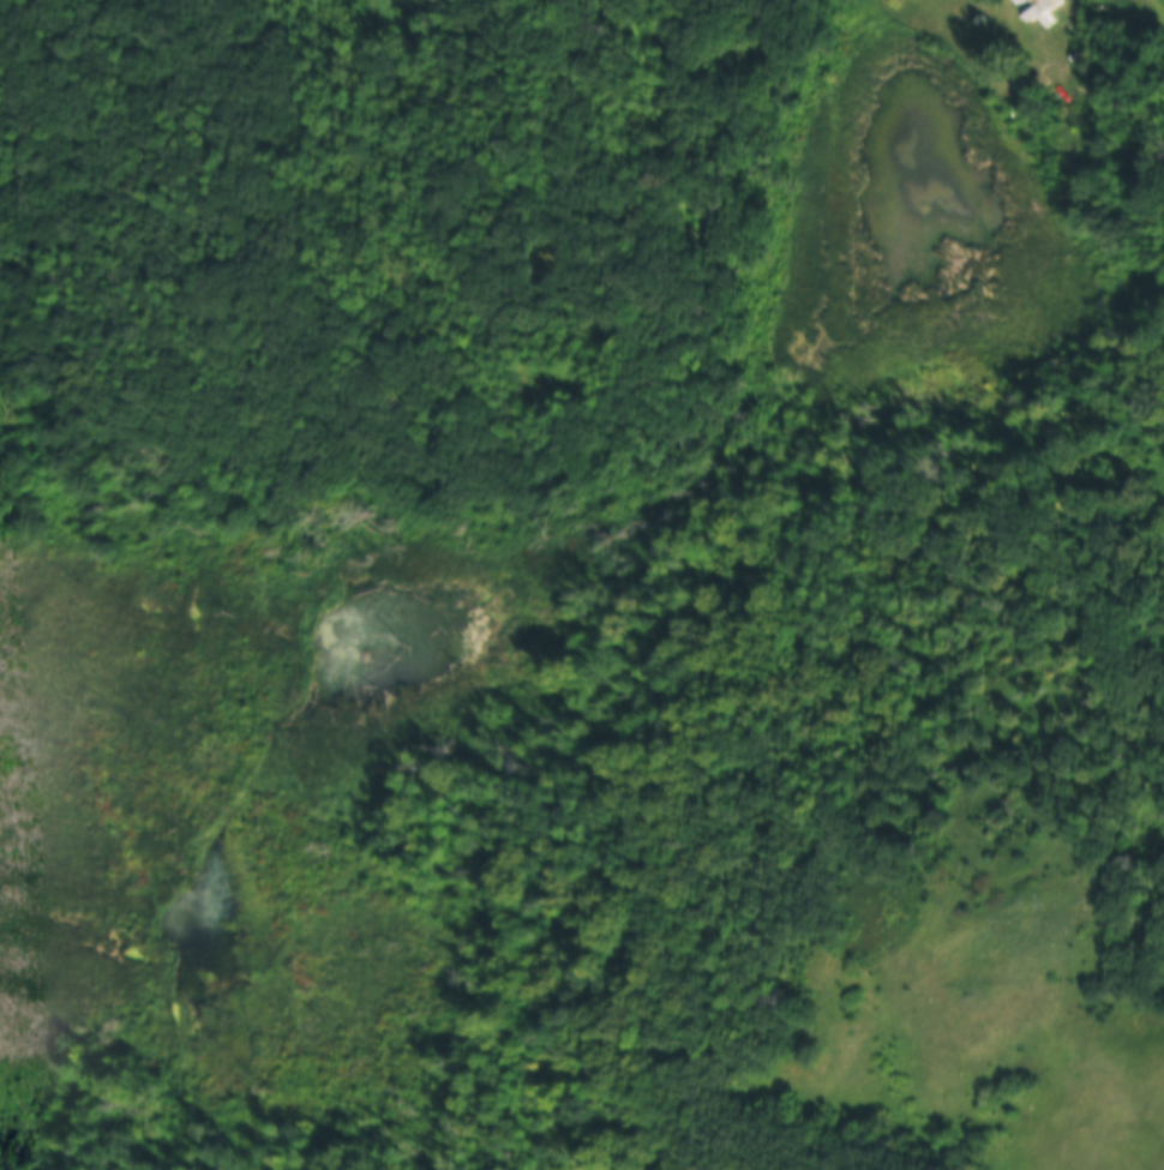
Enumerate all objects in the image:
building: (1043, 10)

